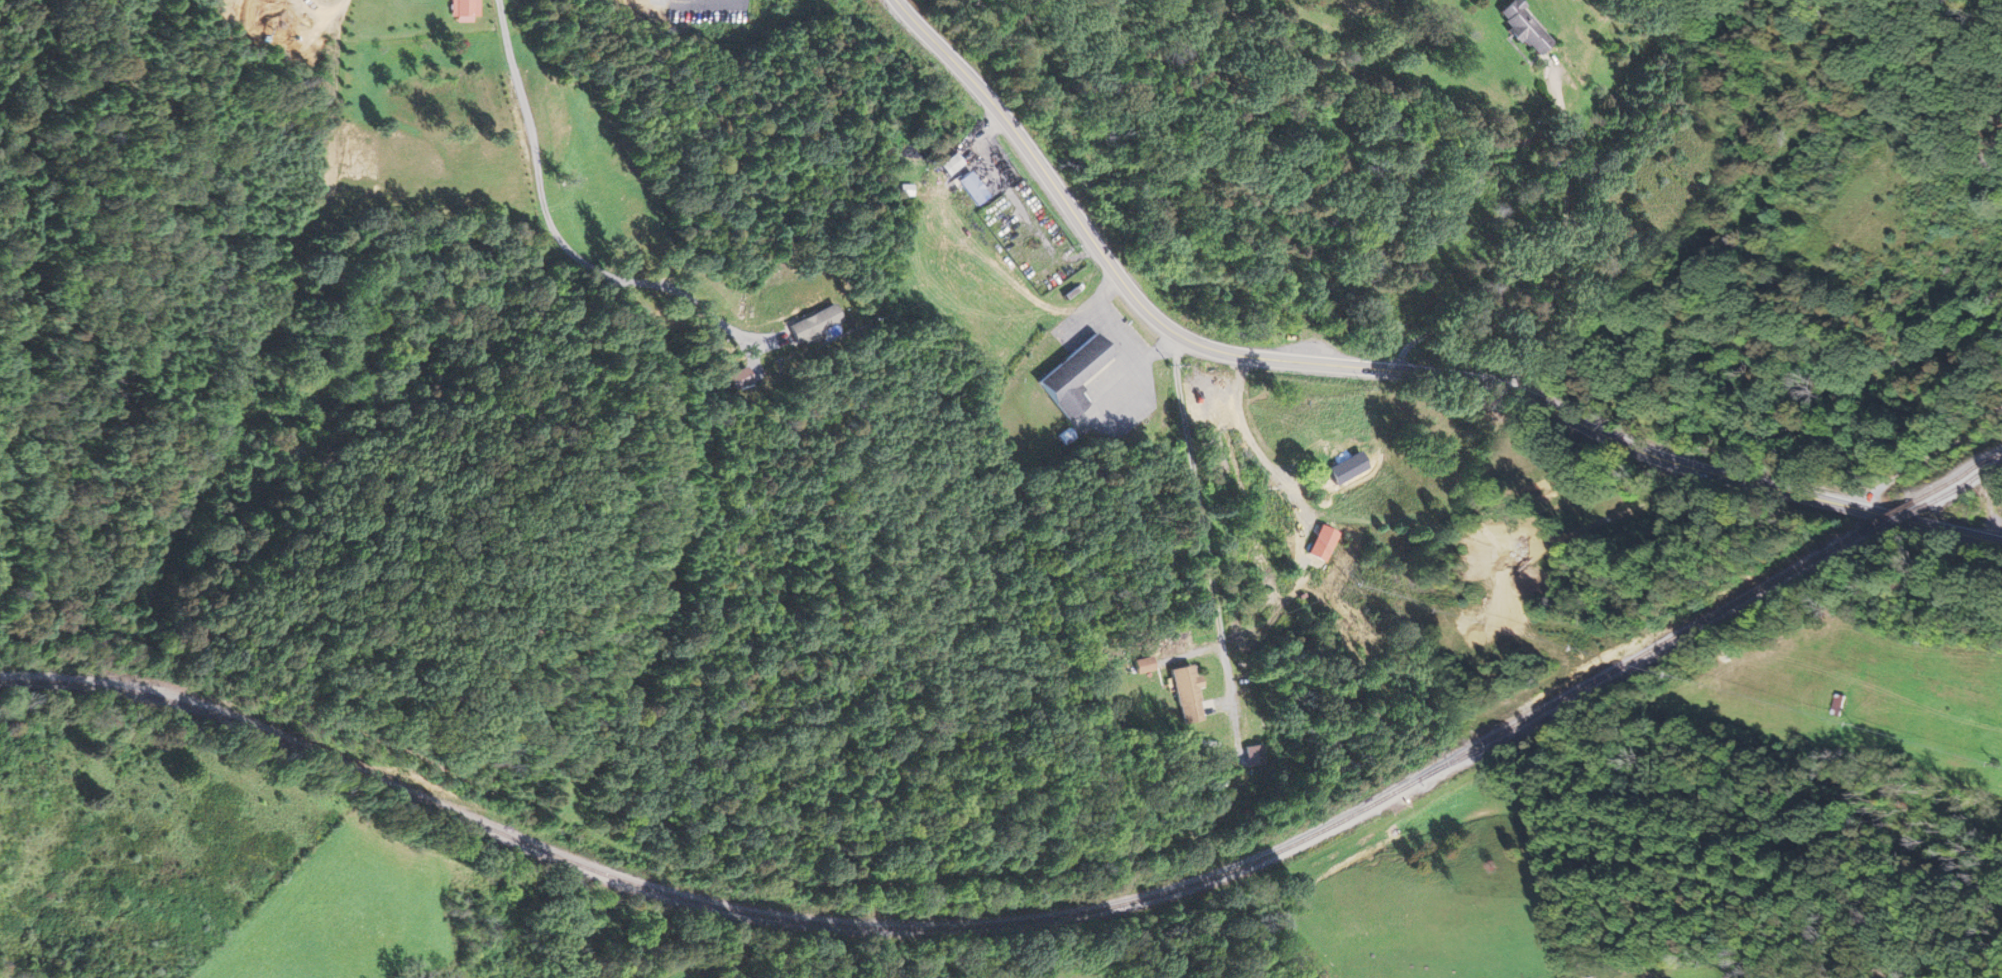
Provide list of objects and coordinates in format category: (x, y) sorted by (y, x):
building: (1521, 28)
building: (972, 190)
road: (1380, 370)
building: (1071, 376)
road: (1930, 459)
building: (1324, 472)
railway: (1963, 482)
railway: (1895, 520)
building: (1320, 543)
building: (1501, 544)
building: (1186, 694)
building: (1838, 705)
road: (697, 863)
road: (12, 906)
railway: (957, 926)

